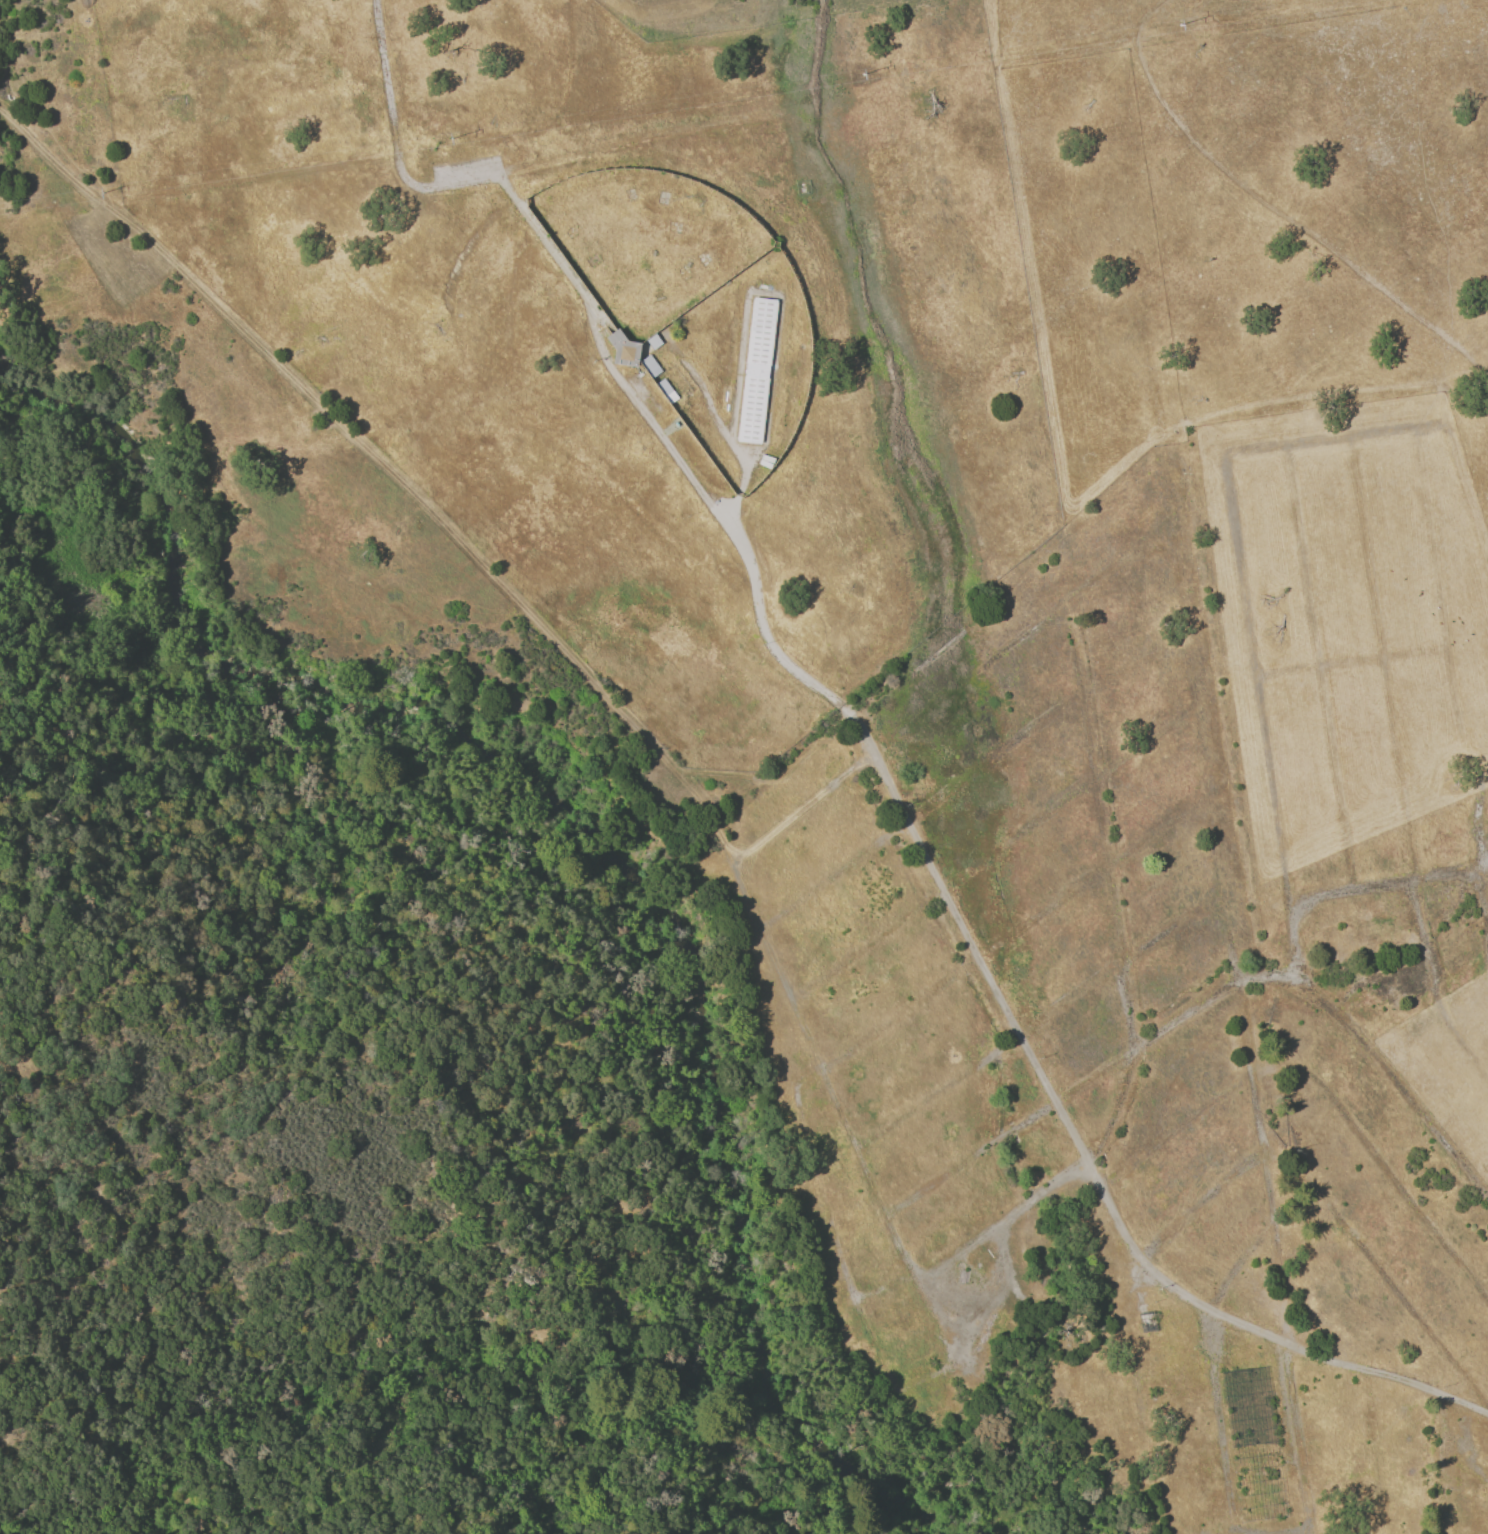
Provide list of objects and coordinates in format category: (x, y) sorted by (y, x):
building: (653, 341)
building: (624, 349)
building: (650, 365)
building: (758, 372)
building: (667, 390)
road: (418, 499)
road: (51, 717)
road: (866, 743)
building: (1152, 1306)
building: (1145, 1323)
building: (1255, 1445)

